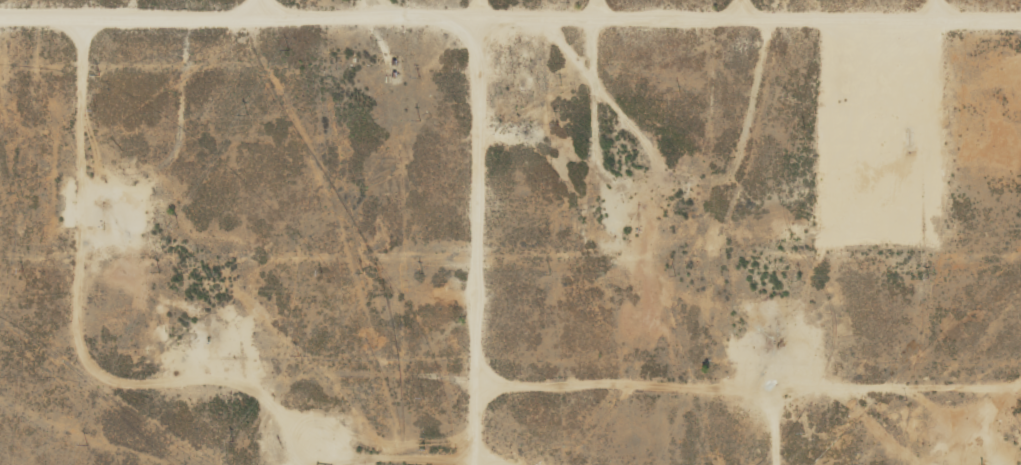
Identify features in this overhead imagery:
road: (745, 4)
road: (274, 7)
road: (510, 21)
road: (471, 244)
road: (646, 359)

